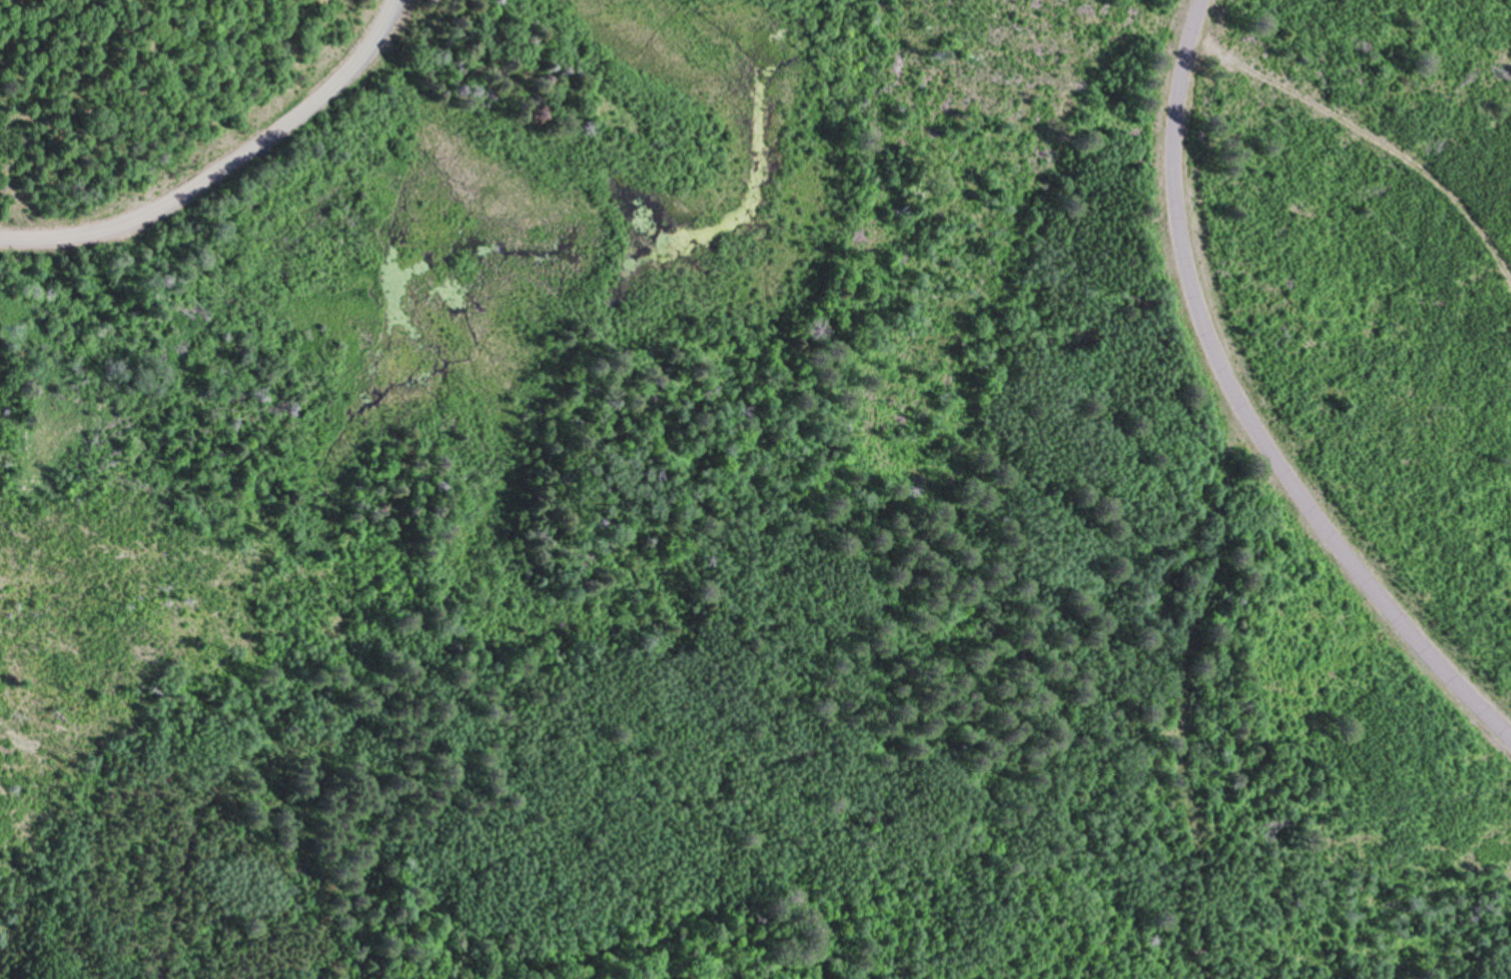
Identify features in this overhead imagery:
road: (219, 166)
road: (1238, 410)

